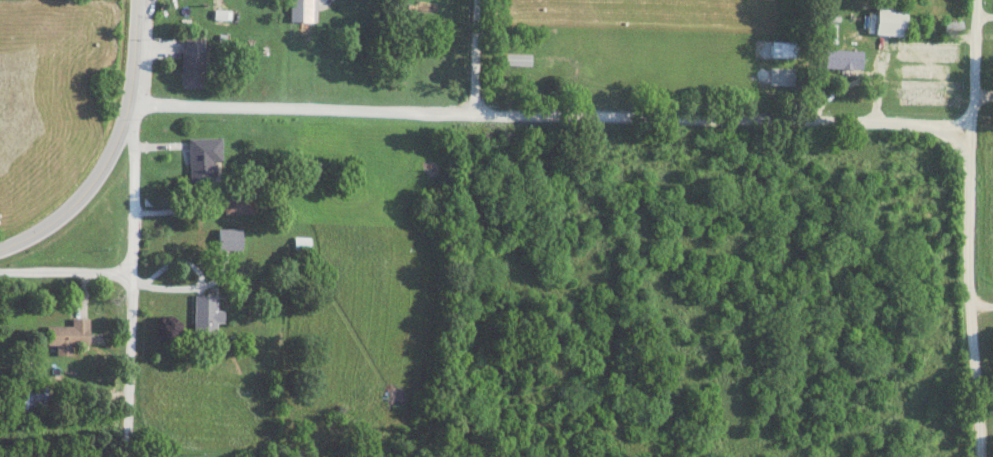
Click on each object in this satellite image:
building: (302, 10)
building: (892, 22)
road: (132, 52)
building: (929, 52)
road: (476, 58)
building: (844, 59)
building: (194, 67)
building: (925, 70)
building: (928, 93)
road: (548, 117)
building: (203, 159)
road: (81, 192)
building: (238, 202)
road: (970, 228)
building: (230, 239)
building: (302, 243)
road: (65, 273)
road: (129, 280)
park: (988, 303)
road: (982, 307)
building: (207, 314)
building: (69, 335)
building: (31, 398)
road: (986, 414)

